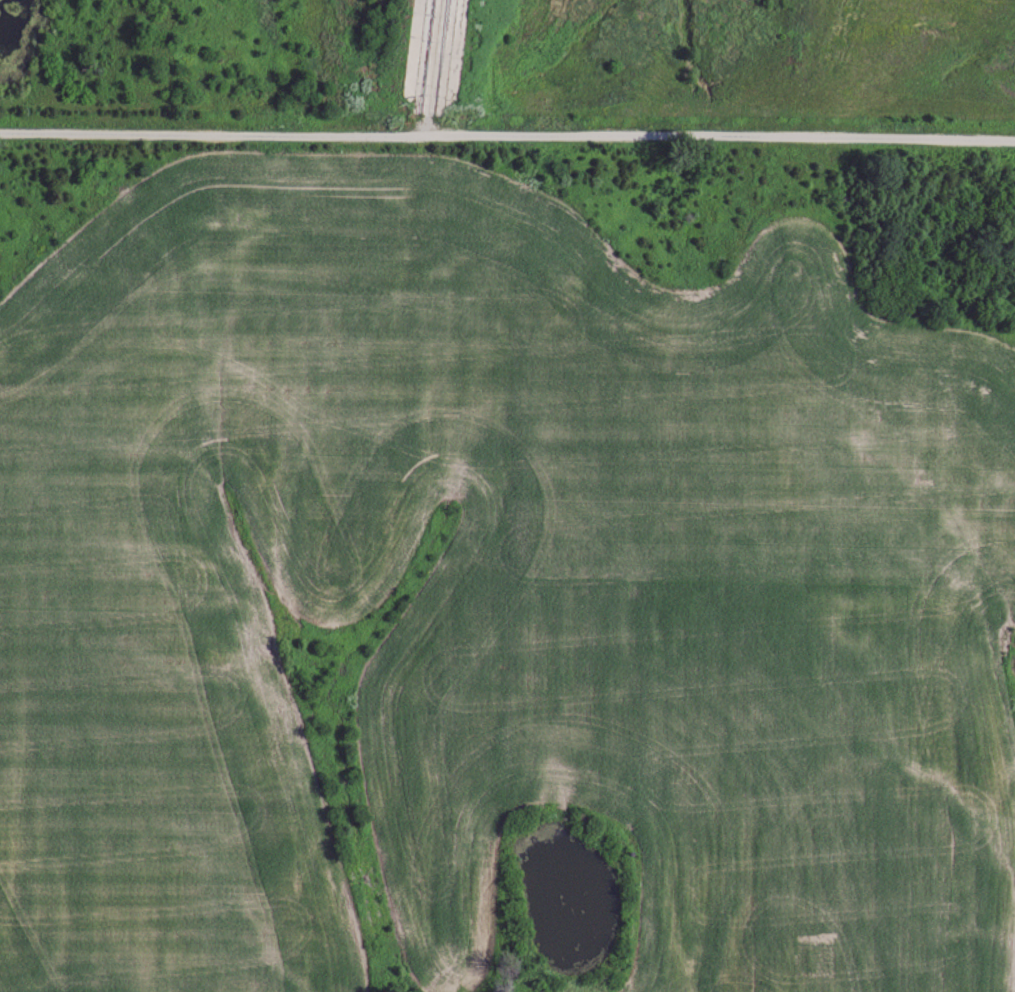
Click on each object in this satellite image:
road: (507, 141)

